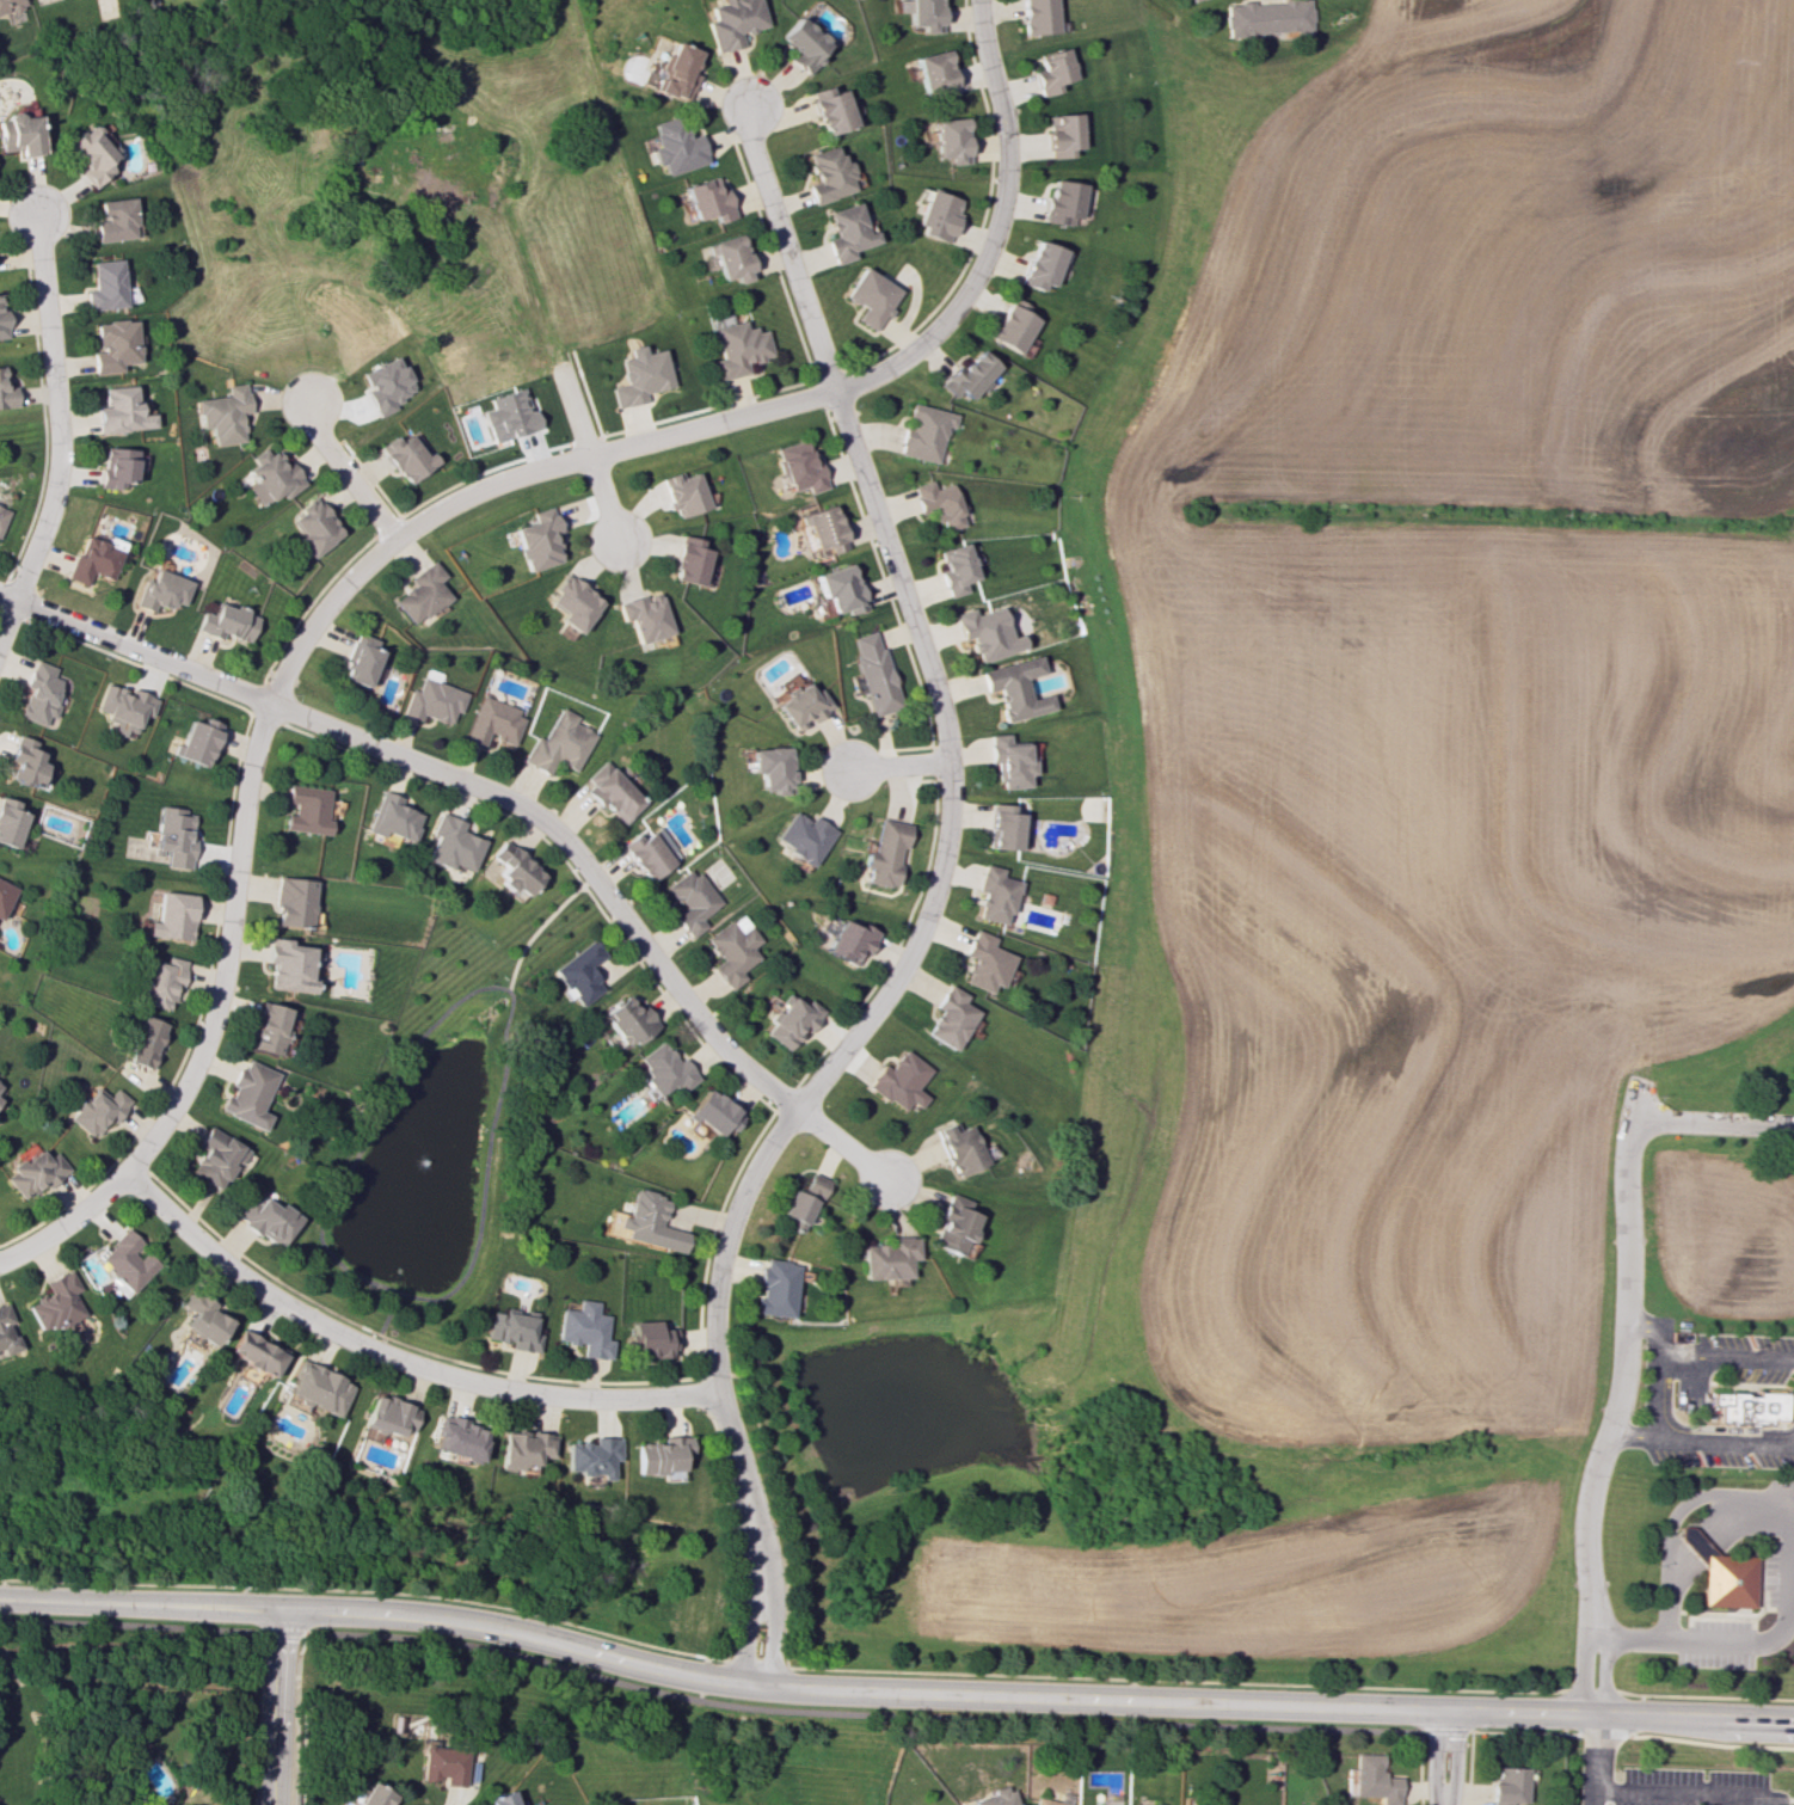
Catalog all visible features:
building: (1191, 0)
building: (8, 4)
building: (922, 13)
building: (1038, 16)
building: (1268, 17)
building: (733, 22)
building: (804, 43)
building: (1052, 70)
building: (675, 72)
building: (935, 73)
building: (831, 110)
building: (19, 134)
building: (1063, 134)
building: (951, 140)
building: (676, 146)
building: (90, 154)
building: (829, 174)
building: (707, 199)
building: (1063, 202)
building: (939, 216)
building: (113, 220)
road: (993, 229)
building: (847, 233)
building: (731, 258)
building: (1044, 264)
building: (103, 286)
building: (871, 297)
building: (2, 325)
building: (1013, 325)
building: (112, 345)
building: (737, 349)
building: (969, 375)
building: (639, 376)
building: (383, 383)
building: (6, 393)
road: (55, 409)
building: (119, 411)
building: (221, 413)
building: (506, 415)
building: (924, 431)
road: (588, 452)
building: (403, 456)
building: (116, 466)
building: (798, 467)
road: (345, 472)
building: (269, 477)
building: (681, 493)
building: (939, 504)
building: (2, 516)
building: (312, 526)
building: (823, 528)
building: (535, 540)
building: (94, 558)
building: (687, 560)
building: (957, 567)
building: (838, 589)
building: (162, 590)
building: (419, 593)
building: (570, 603)
building: (643, 616)
road: (7, 619)
building: (226, 622)
building: (985, 633)
building: (360, 659)
building: (872, 673)
building: (1014, 688)
crop: (1461, 692)
road: (274, 693)
building: (38, 694)
building: (432, 699)
building: (123, 707)
building: (801, 707)
building: (491, 722)
building: (197, 741)
building: (557, 743)
building: (1009, 761)
building: (24, 762)
road: (899, 766)
building: (770, 768)
building: (610, 792)
road: (504, 800)
building: (306, 809)
building: (392, 818)
building: (8, 822)
road: (951, 822)
building: (1003, 828)
building: (172, 836)
building: (803, 836)
building: (450, 843)
building: (649, 852)
building: (885, 852)
building: (511, 868)
building: (4, 894)
building: (995, 895)
building: (690, 901)
building: (293, 902)
building: (171, 916)
building: (850, 941)
building: (733, 950)
building: (985, 962)
building: (288, 965)
building: (579, 972)
building: (160, 983)
road: (462, 997)
building: (950, 1018)
building: (792, 1021)
building: (627, 1023)
building: (269, 1029)
building: (143, 1042)
building: (664, 1068)
building: (899, 1081)
building: (247, 1094)
building: (96, 1110)
building: (714, 1112)
road: (1713, 1122)
building: (958, 1148)
building: (215, 1158)
building: (33, 1173)
building: (801, 1202)
building: (268, 1220)
building: (649, 1222)
building: (952, 1224)
building: (886, 1258)
building: (128, 1260)
building: (775, 1288)
building: (56, 1302)
building: (202, 1318)
building: (583, 1328)
building: (6, 1331)
building: (511, 1331)
building: (650, 1339)
road: (1622, 1346)
building: (254, 1352)
road: (393, 1358)
road: (1694, 1365)
parking lot: (1675, 1387)
building: (318, 1388)
road: (1654, 1399)
building: (1744, 1405)
building: (387, 1416)
building: (459, 1438)
road: (1700, 1438)
building: (523, 1447)
building: (659, 1454)
building: (590, 1456)
road: (1790, 1535)
road: (726, 1536)
road: (1706, 1539)
building: (1720, 1573)
crop: (1252, 1580)
road: (364, 1591)
road: (772, 1592)
road: (750, 1594)
road: (1604, 1660)
road: (1580, 1662)
road: (1130, 1678)
road: (892, 1692)
road: (276, 1707)
road: (792, 1709)
road: (1692, 1742)
road: (1442, 1757)
road: (1592, 1760)
building: (441, 1764)
building: (1374, 1779)
building: (1509, 1786)
parking lot: (1692, 1787)
road: (1687, 1793)
building: (369, 1795)
building: (996, 1797)
building: (499, 1799)
road: (1789, 1800)
building: (1046, 1801)
building: (340, 1803)
building: (91, 1804)

